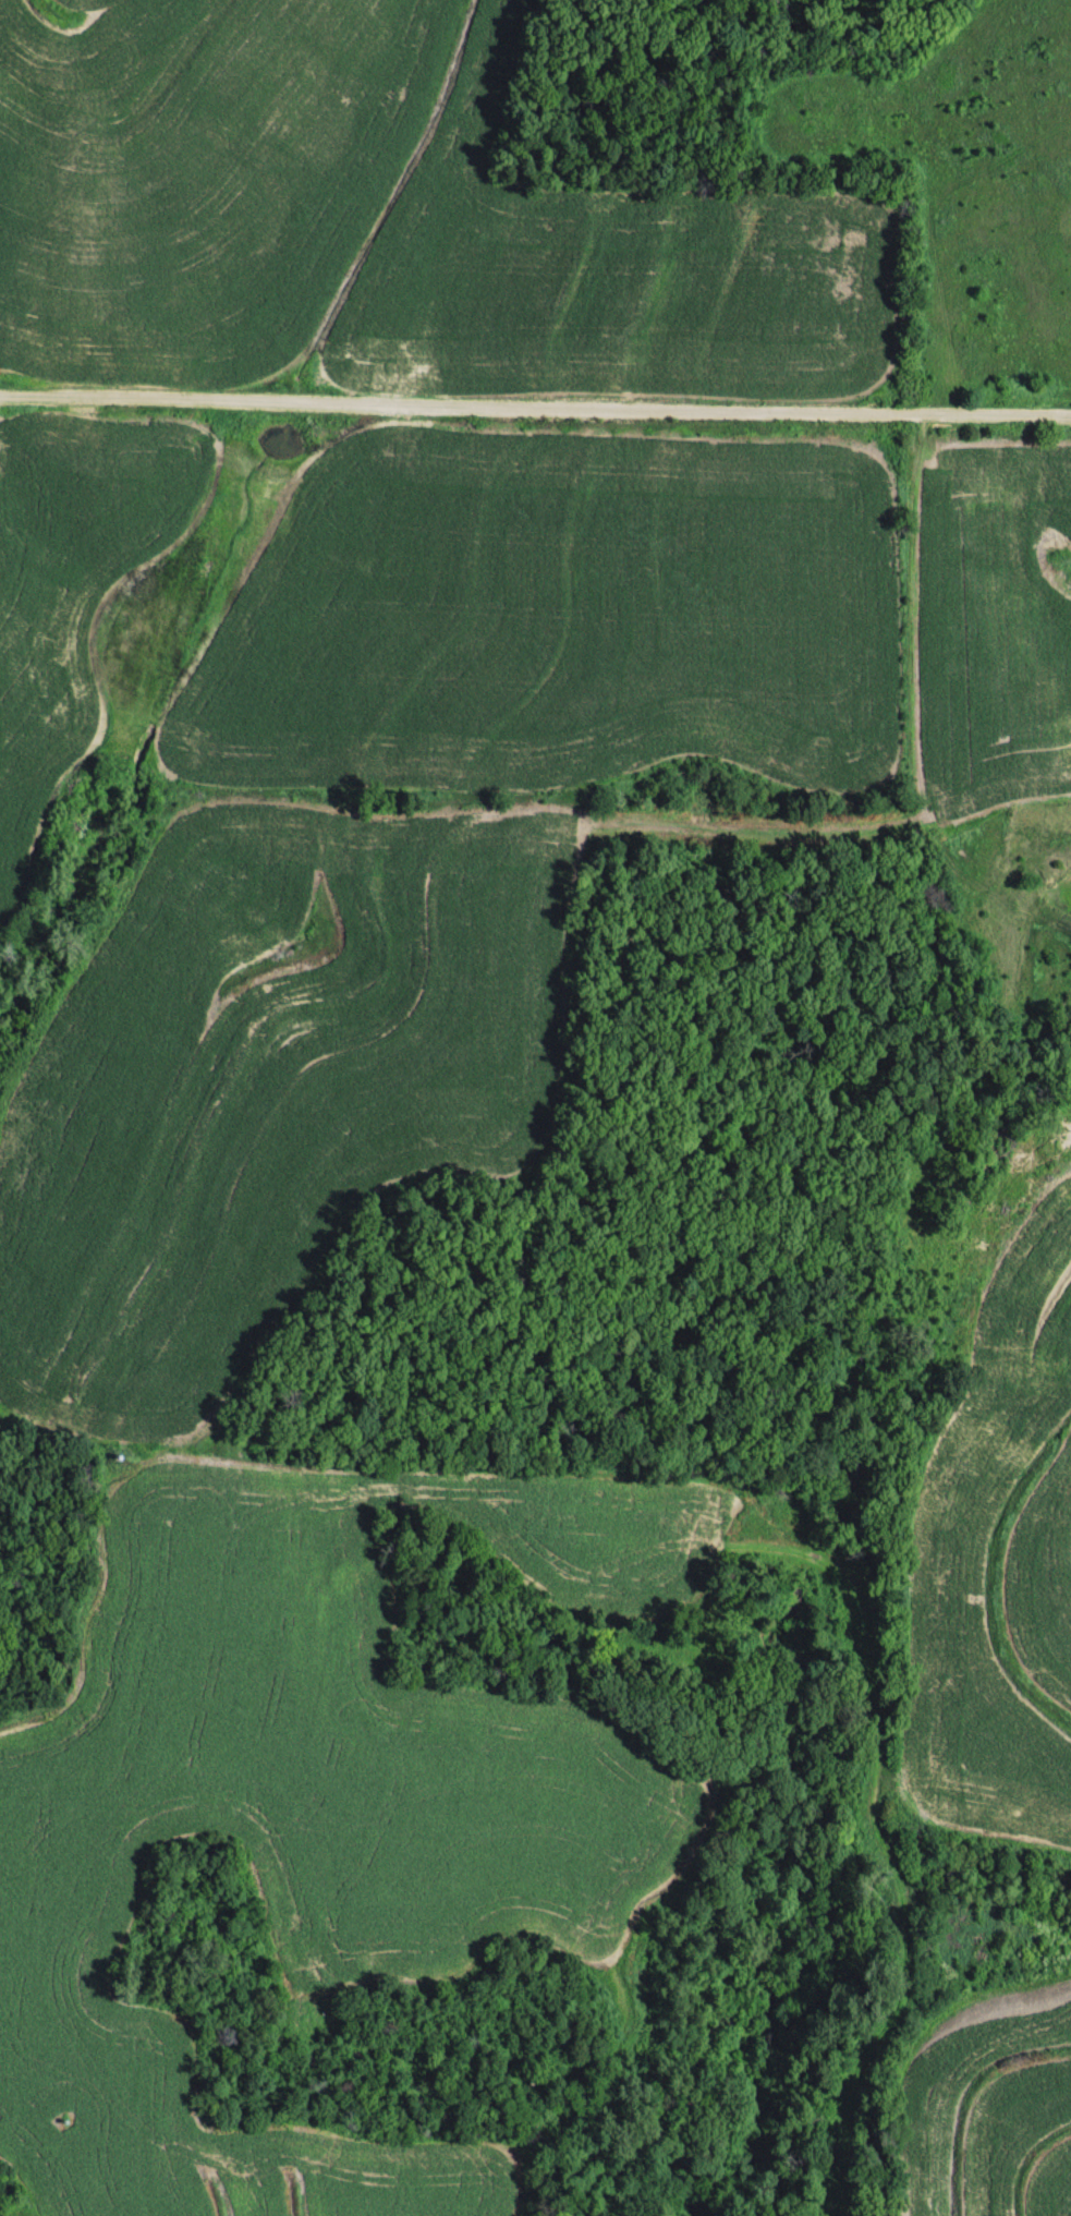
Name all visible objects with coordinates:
road: (535, 387)

